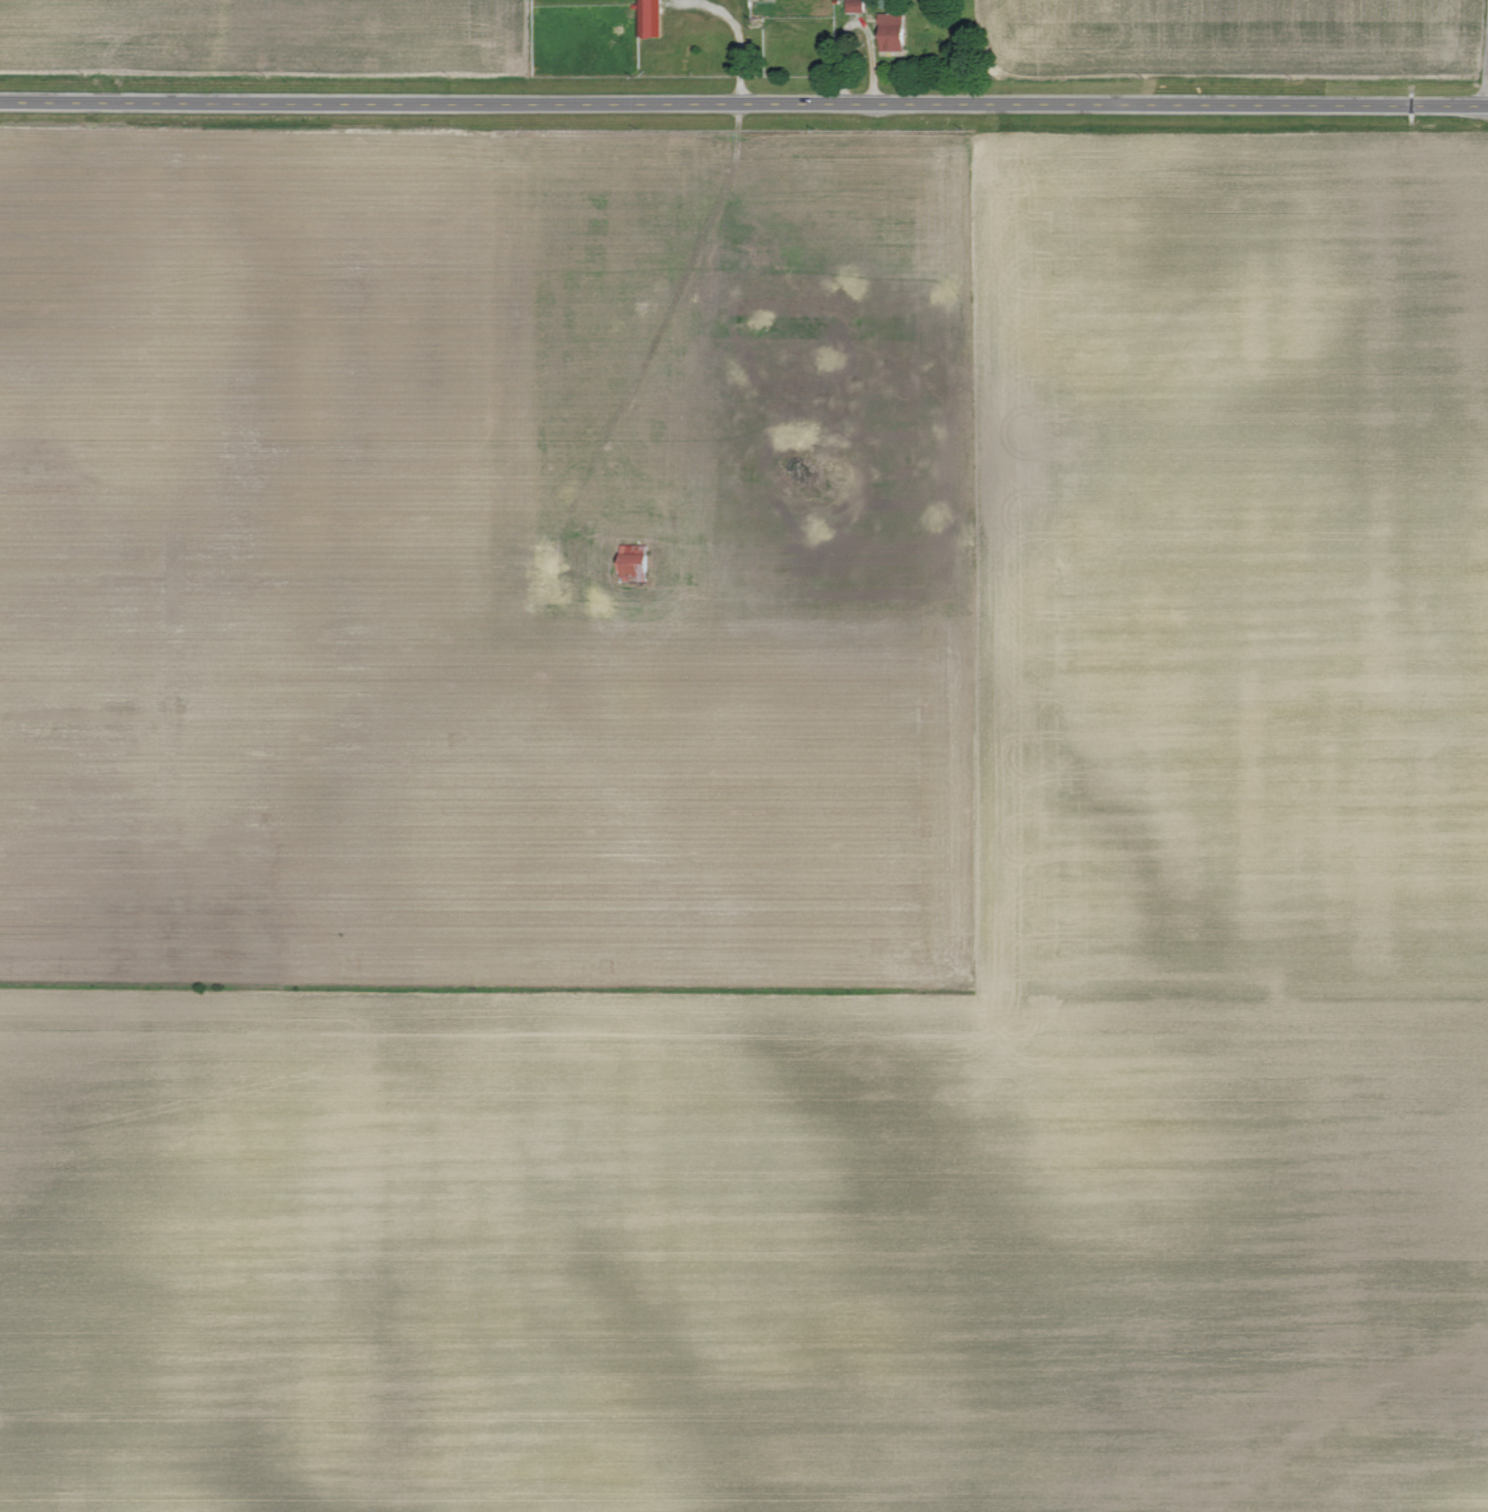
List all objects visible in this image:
road: (733, 32)
road: (1485, 63)
road: (743, 106)

